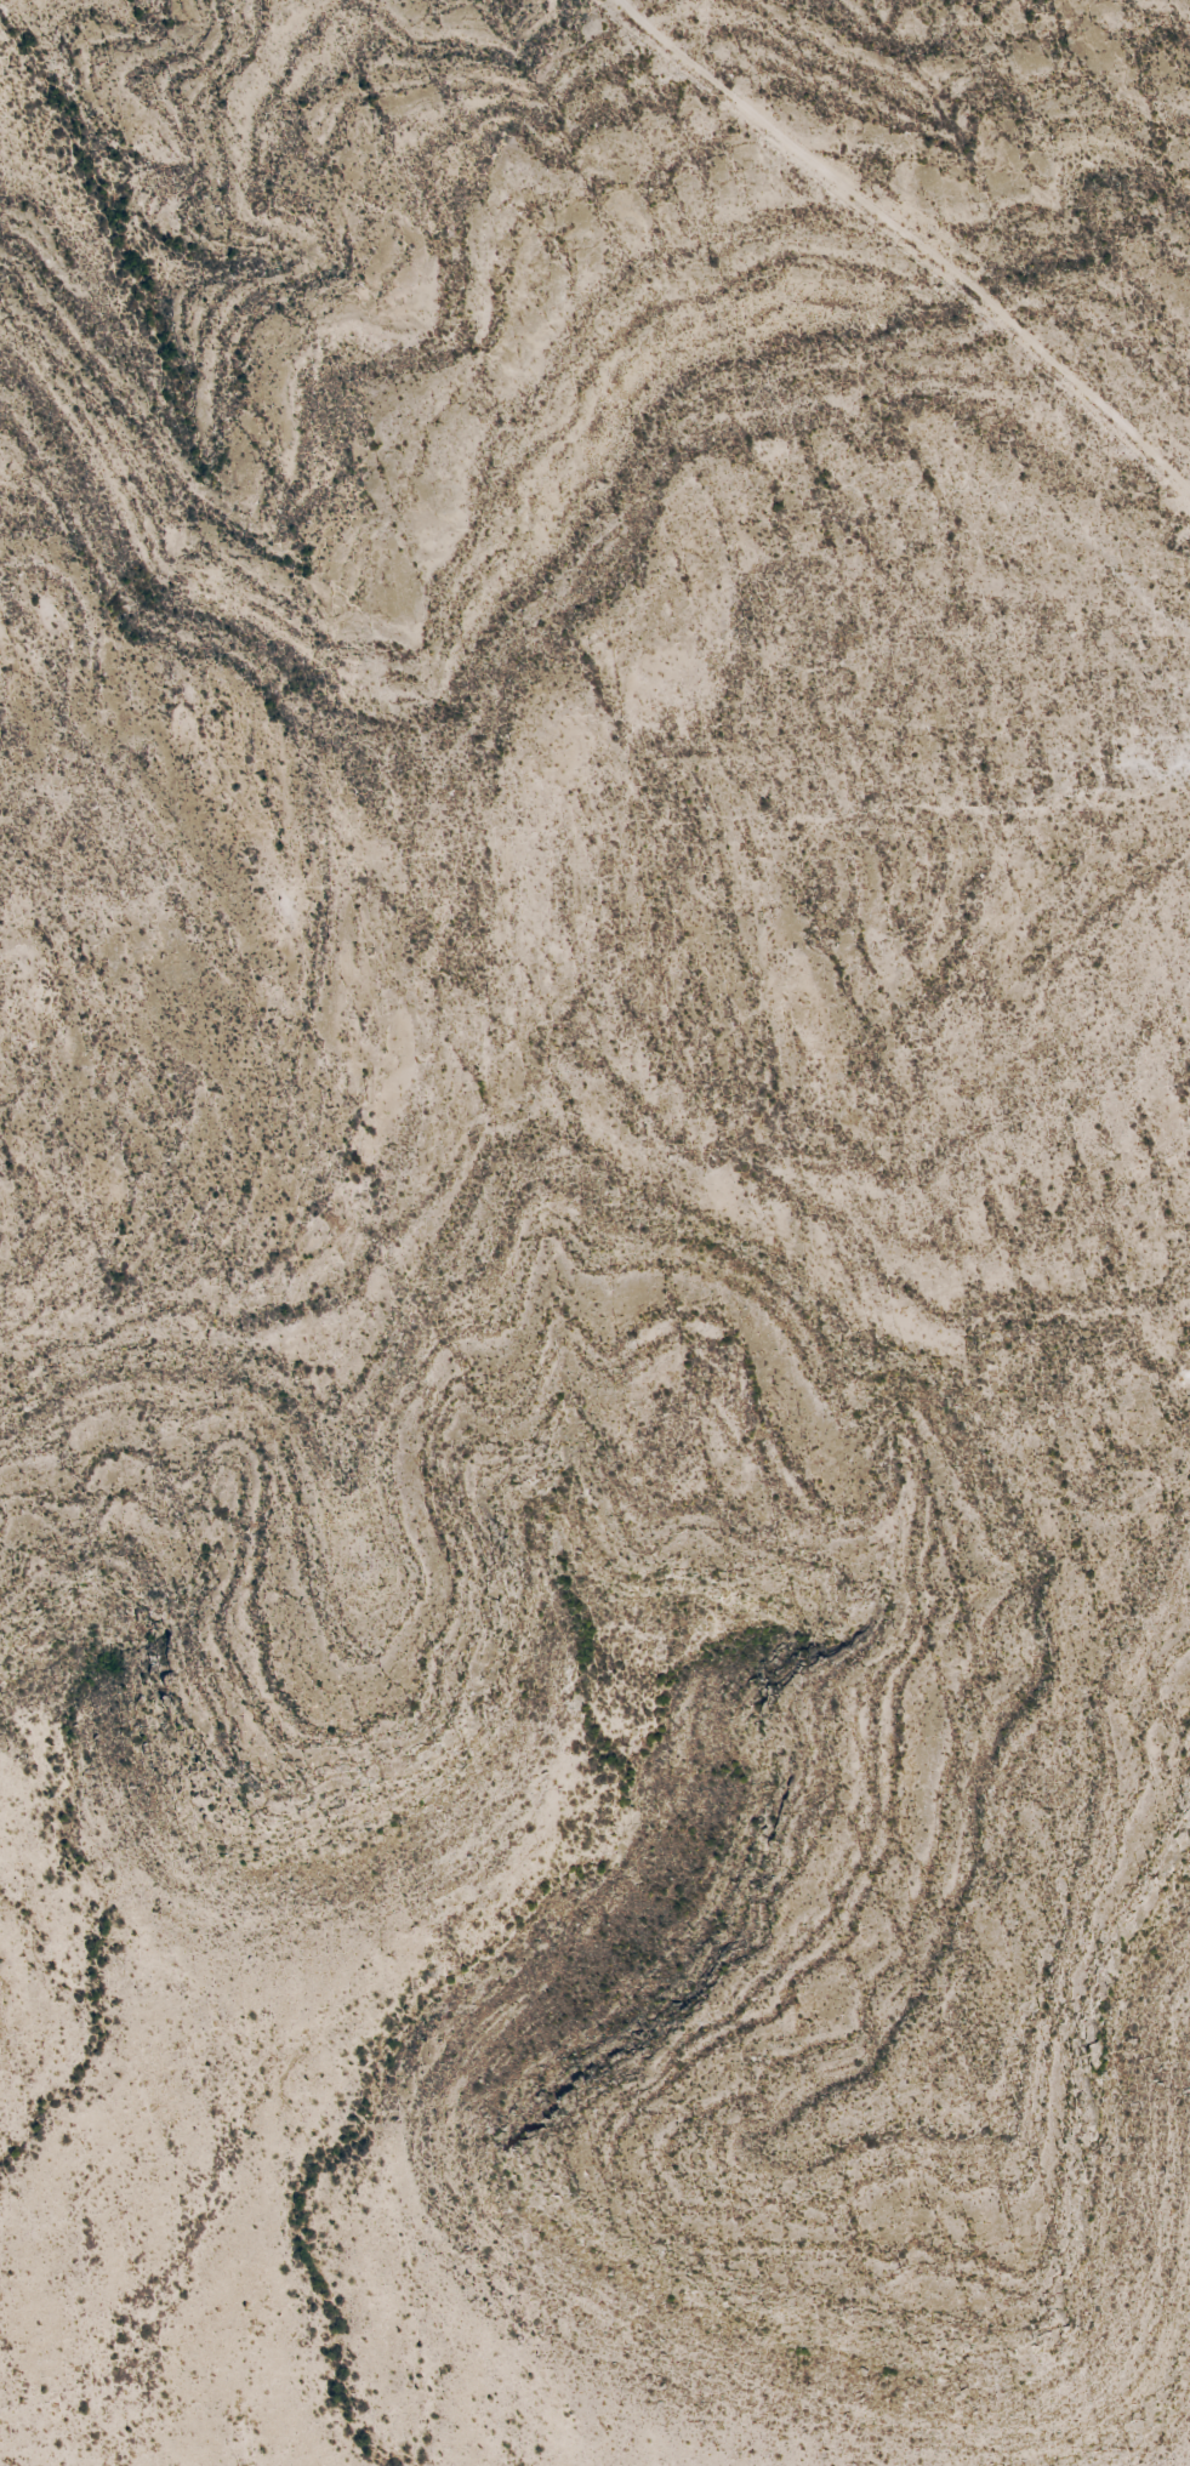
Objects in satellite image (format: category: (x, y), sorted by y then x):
road: (917, 233)

